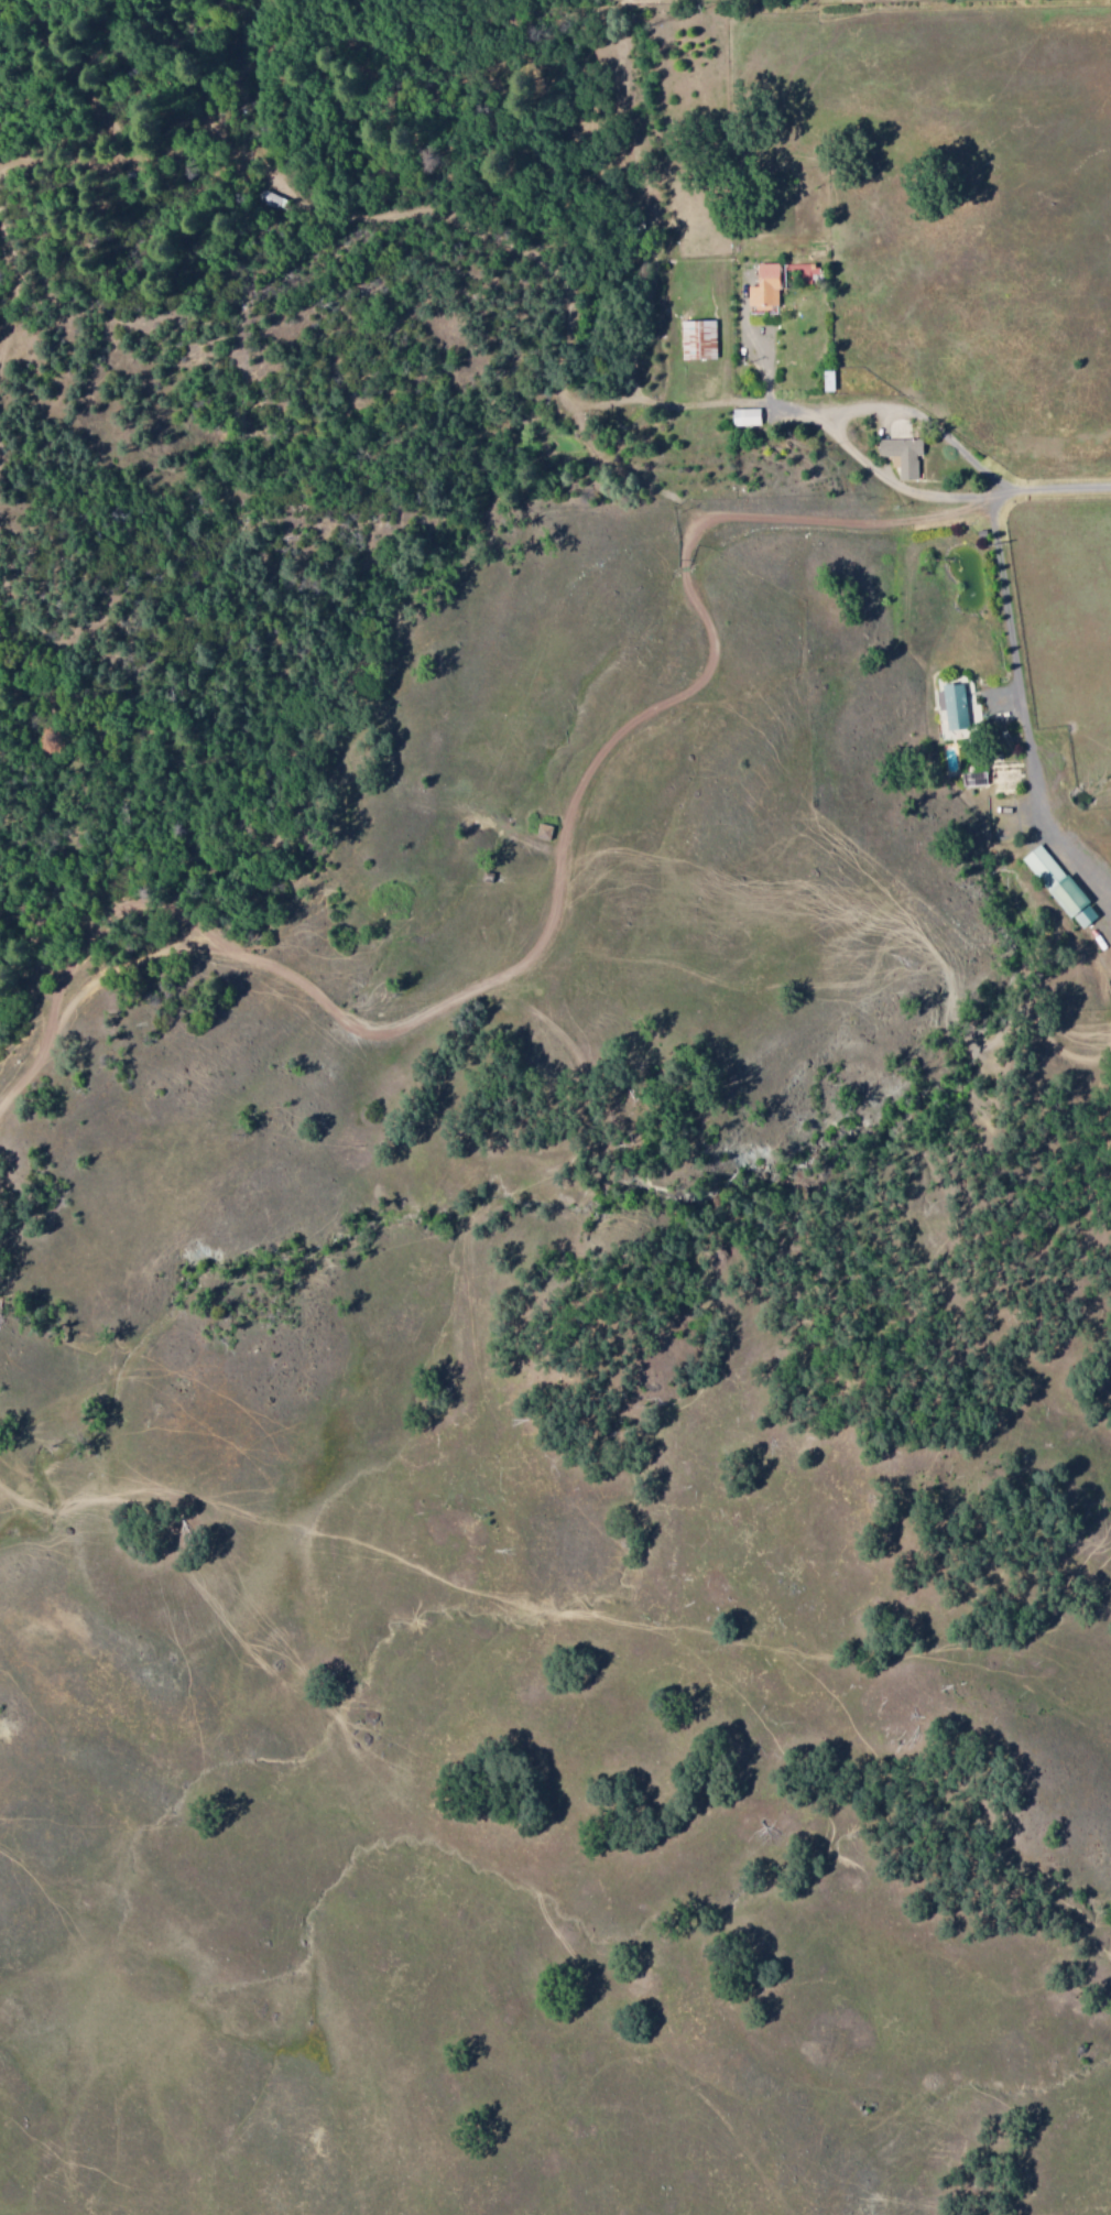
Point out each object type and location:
building: (799, 271)
building: (765, 286)
building: (698, 340)
building: (829, 381)
building: (744, 417)
building: (902, 454)
road: (943, 497)
road: (1003, 520)
building: (956, 707)
building: (974, 780)
building: (1004, 784)
building: (1042, 868)
building: (1069, 895)
building: (1086, 916)
road: (546, 923)

